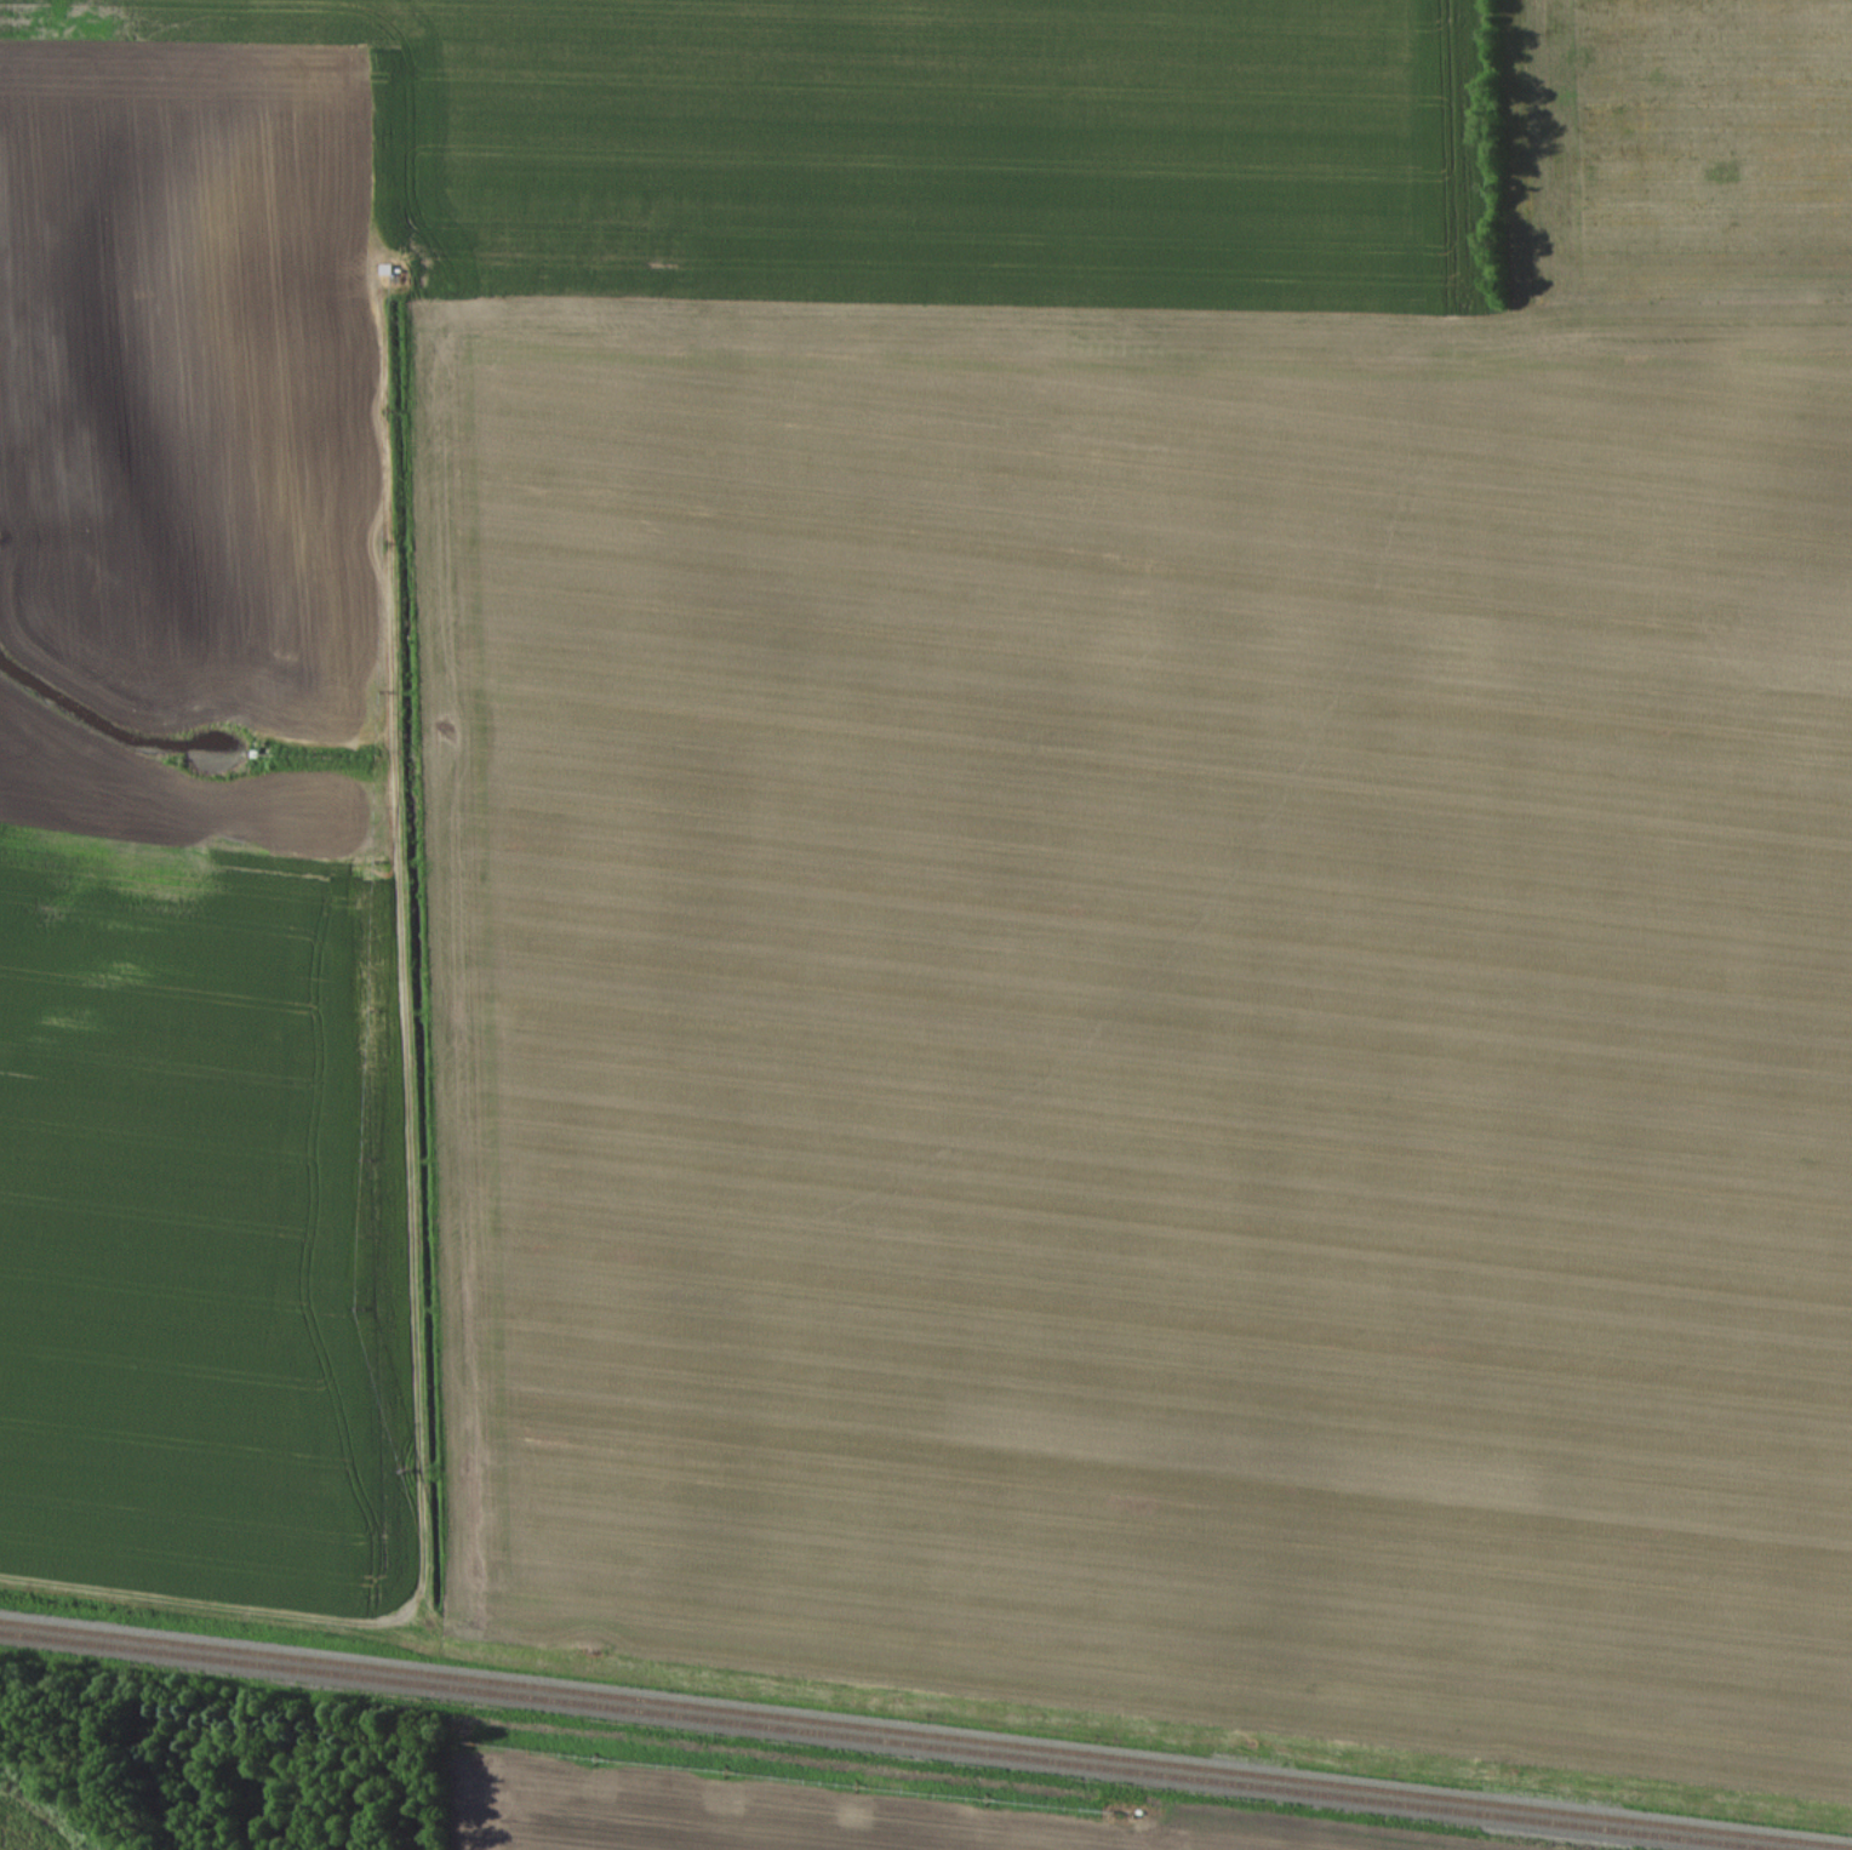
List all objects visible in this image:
railway: (926, 1734)
railway: (890, 1741)

